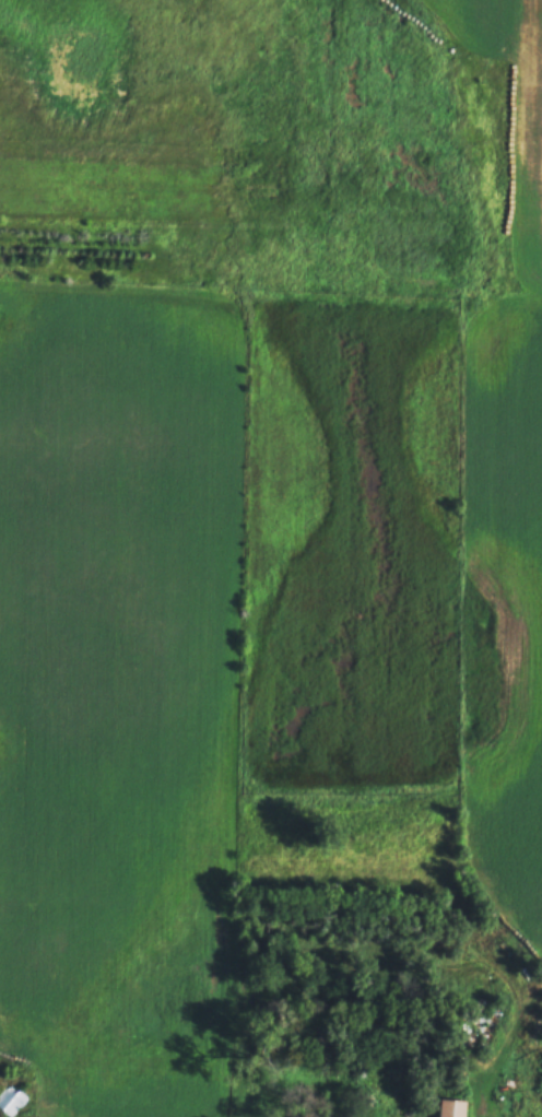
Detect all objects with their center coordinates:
building: (449, 1108)

